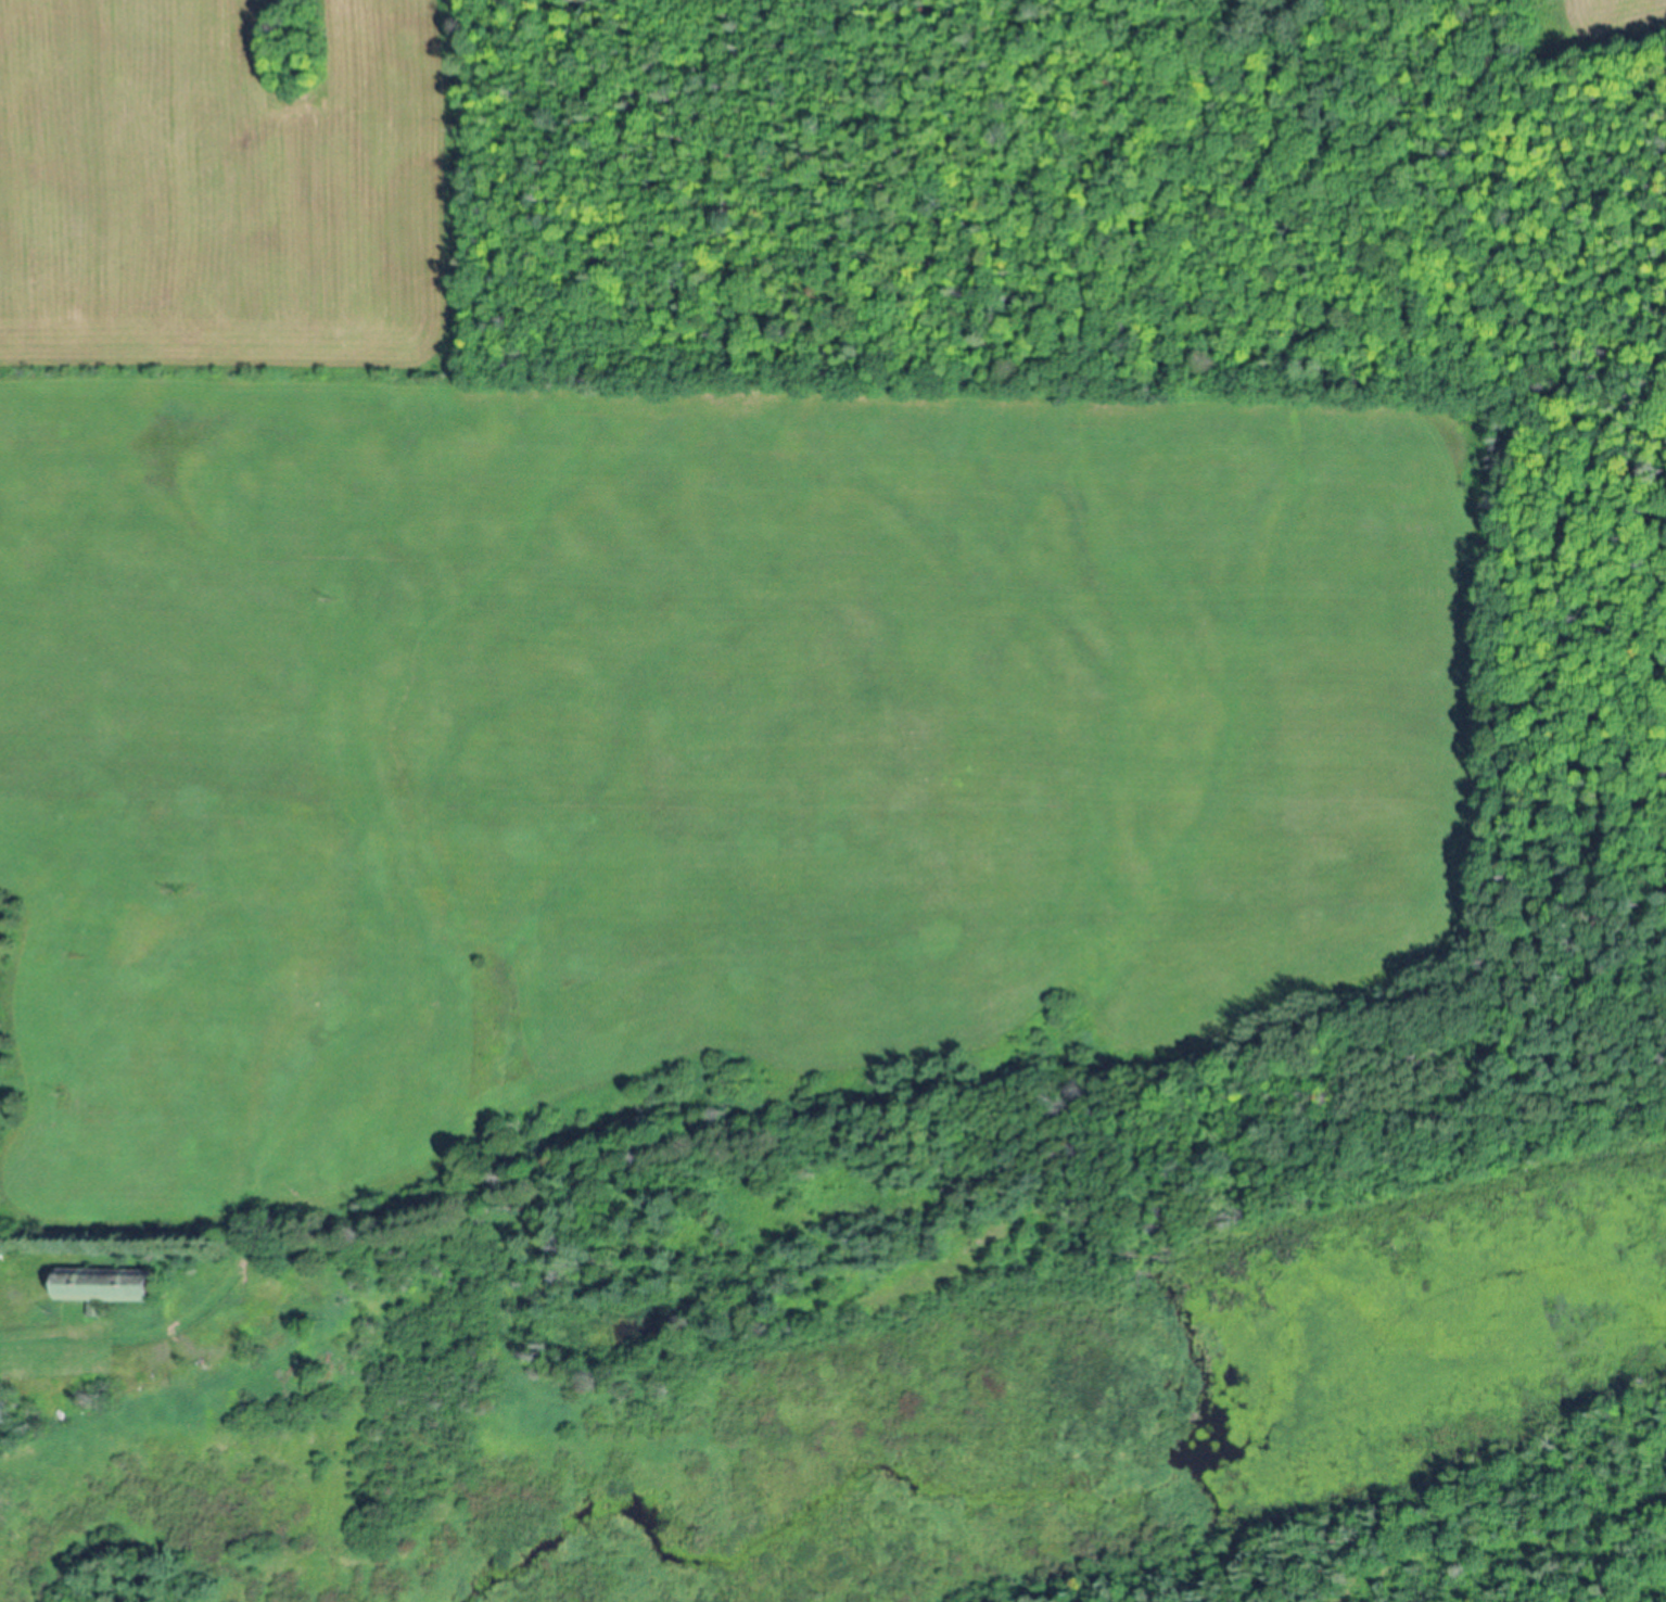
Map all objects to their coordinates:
building: (113, 1290)

